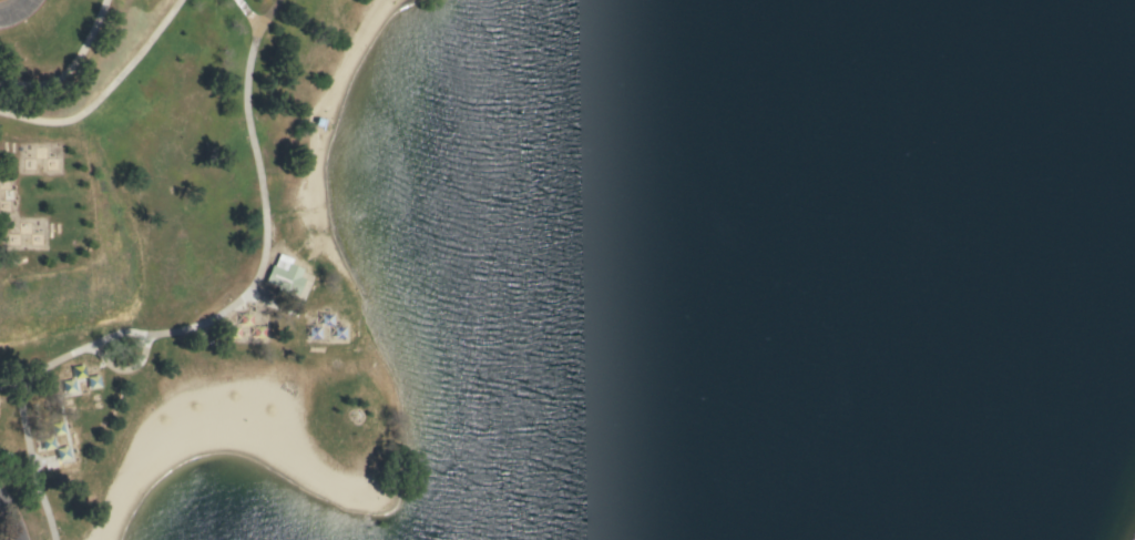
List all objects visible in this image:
road: (9, 6)
parking lot: (16, 10)
road: (247, 12)
road: (67, 65)
road: (104, 91)
park: (567, 269)
building: (284, 279)
road: (204, 324)
road: (125, 369)
road: (8, 387)
road: (62, 435)
road: (12, 516)

